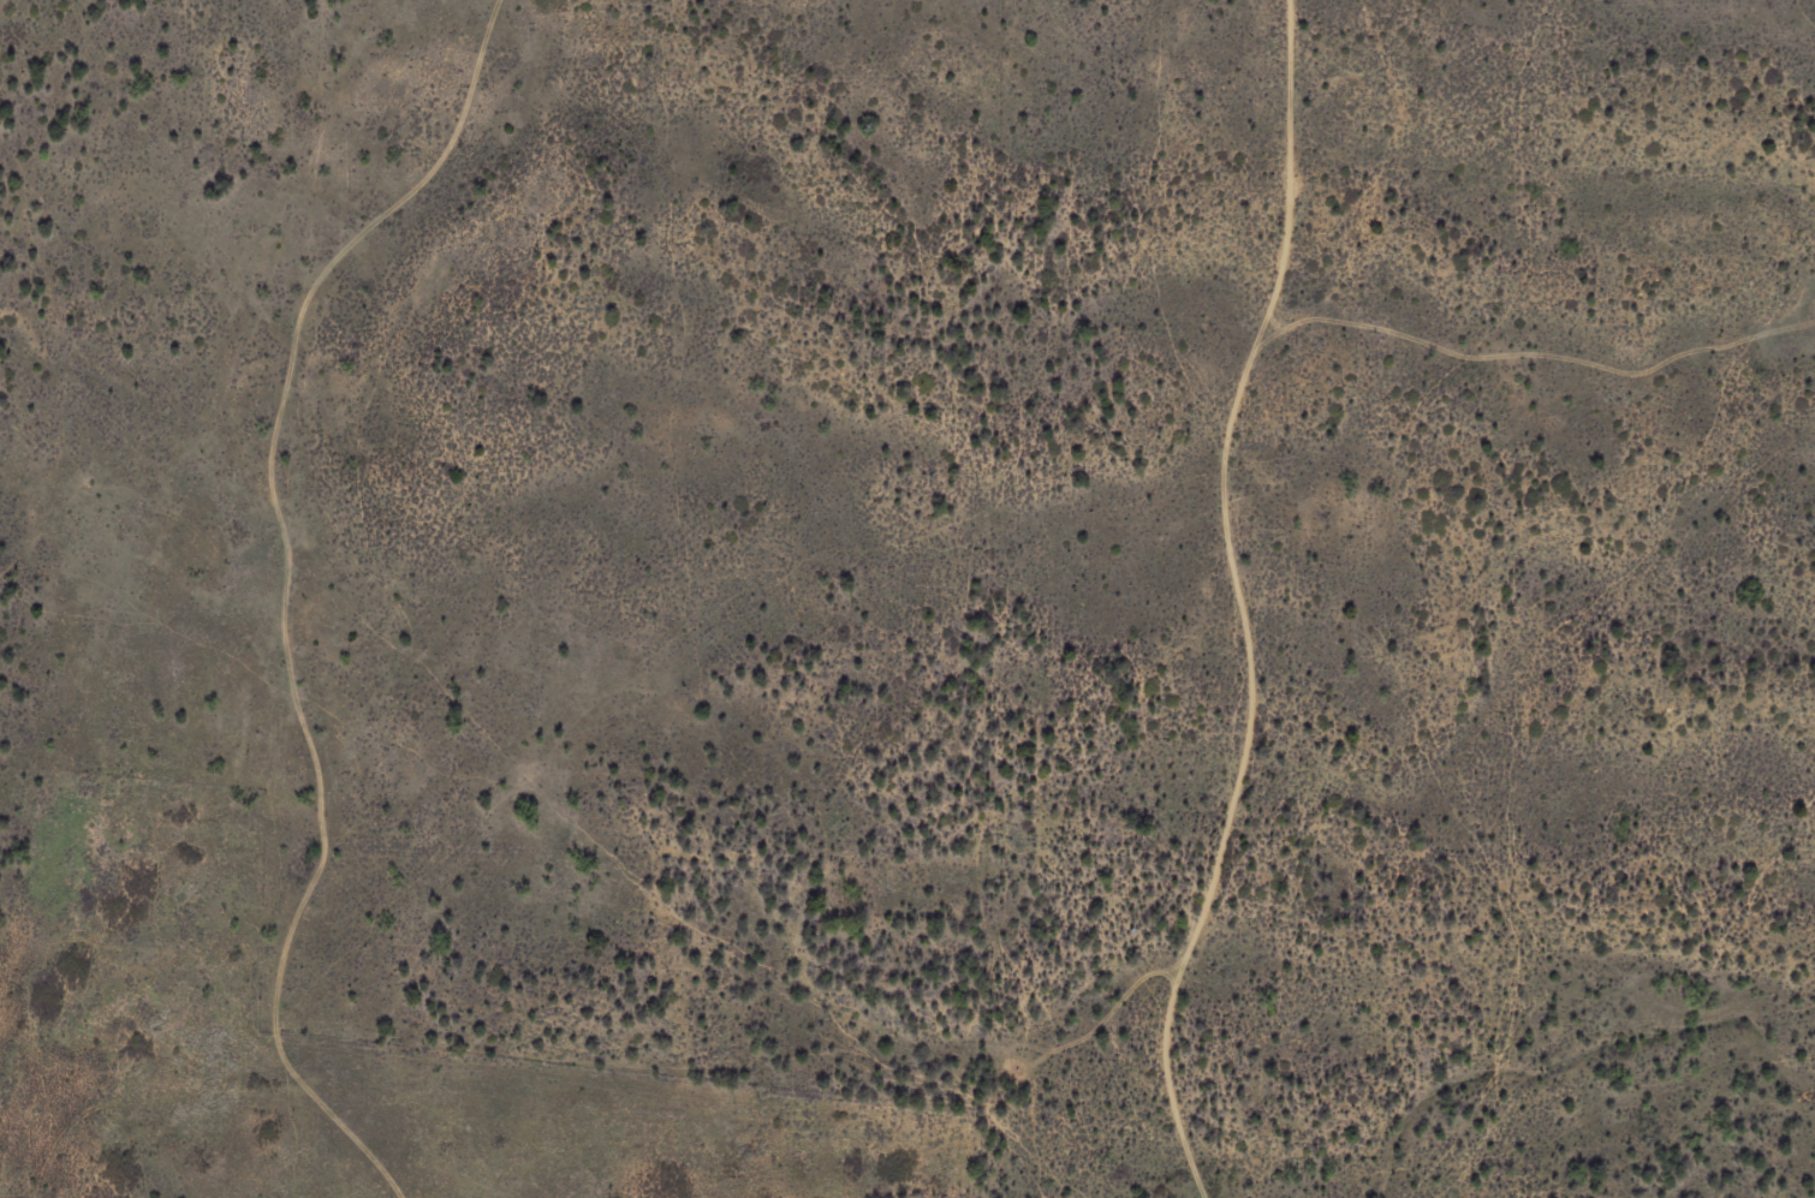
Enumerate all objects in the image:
road: (268, 584)
road: (1250, 601)

